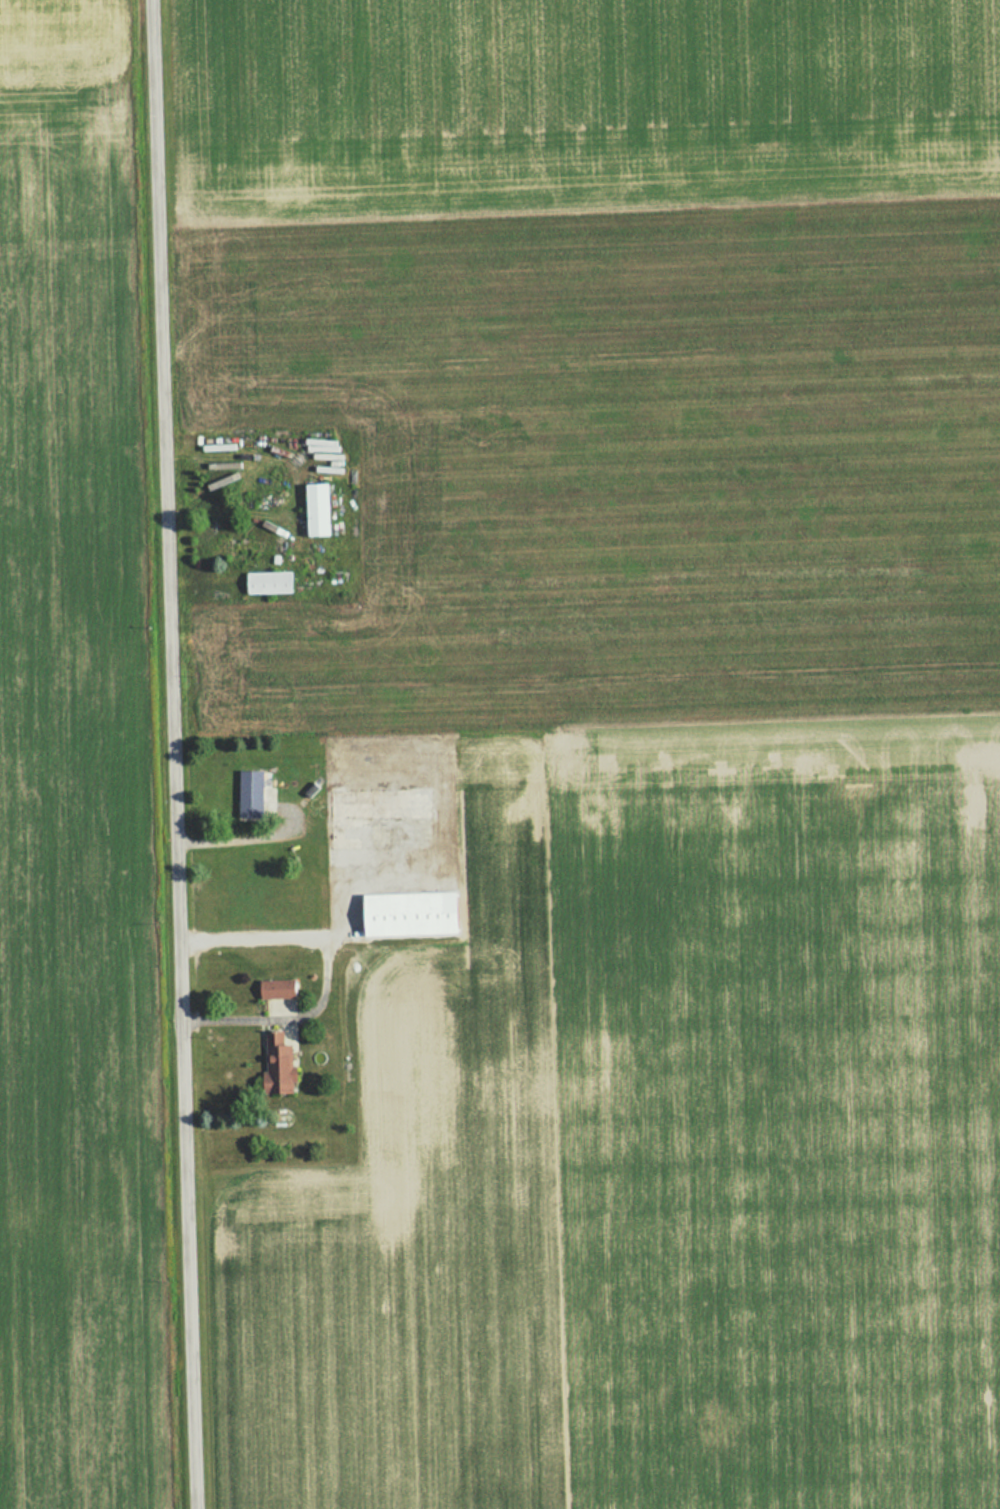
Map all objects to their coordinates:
crop: (60, 41)
crop: (582, 103)
building: (316, 510)
building: (268, 583)
road: (167, 754)
building: (251, 794)
crop: (72, 832)
crop: (645, 856)
building: (410, 914)
road: (322, 970)
building: (276, 989)
building: (277, 1065)

